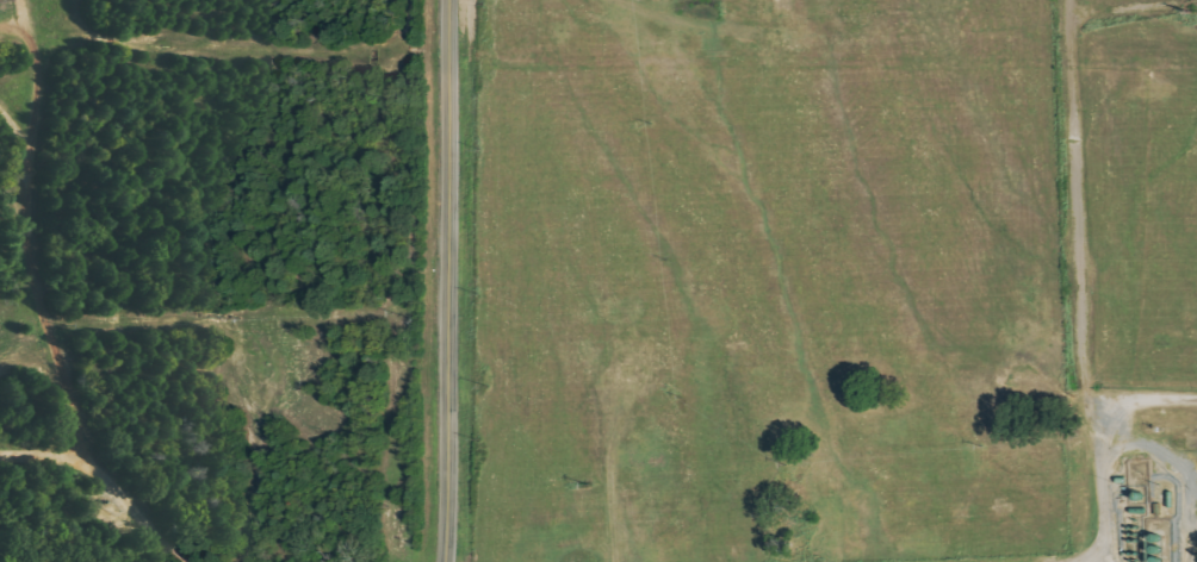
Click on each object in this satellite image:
road: (1133, 8)
road: (447, 281)
road: (1141, 400)

